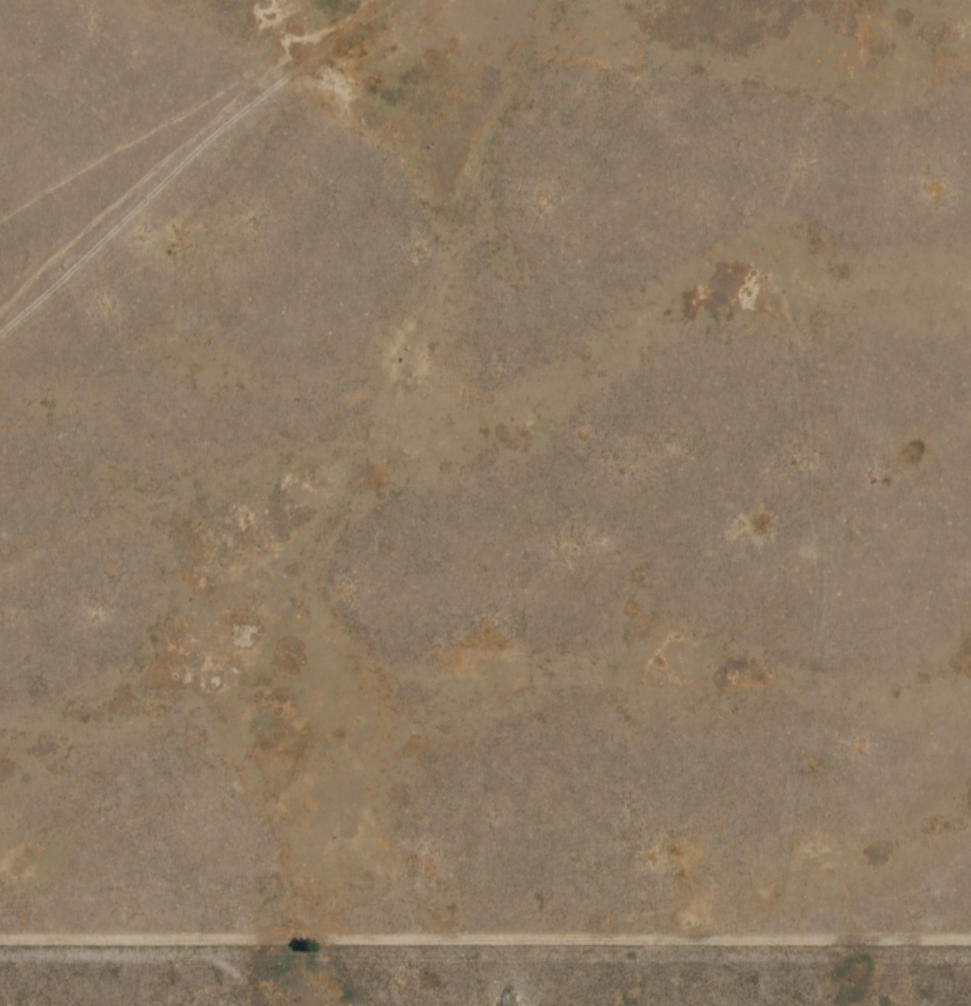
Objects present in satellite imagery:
road: (186, 167)

